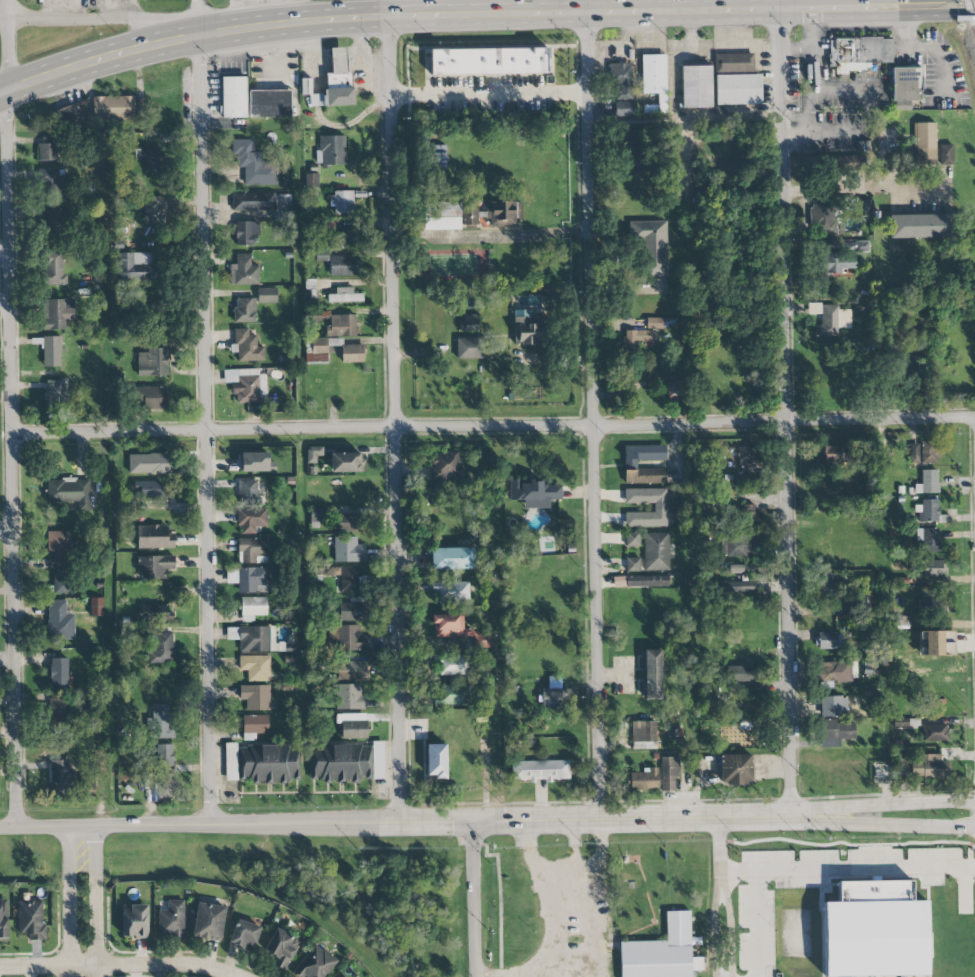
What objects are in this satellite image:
road: (778, 4)
road: (584, 6)
road: (926, 6)
road: (389, 8)
road: (6, 9)
road: (434, 16)
road: (200, 17)
railway: (970, 17)
road: (3, 18)
road: (104, 21)
road: (921, 45)
building: (858, 53)
building: (490, 62)
building: (733, 63)
building: (654, 78)
building: (621, 80)
road: (813, 80)
building: (336, 83)
building: (696, 87)
building: (905, 87)
building: (737, 90)
road: (489, 95)
building: (234, 98)
building: (270, 104)
building: (113, 107)
building: (141, 108)
building: (625, 109)
building: (71, 114)
building: (639, 138)
building: (924, 143)
building: (47, 148)
building: (330, 150)
building: (946, 154)
building: (437, 157)
building: (151, 159)
building: (253, 164)
building: (51, 179)
road: (862, 189)
building: (259, 201)
building: (342, 202)
building: (153, 210)
building: (503, 213)
building: (834, 213)
building: (441, 215)
building: (469, 216)
building: (54, 219)
building: (921, 226)
building: (246, 233)
road: (512, 234)
building: (347, 237)
building: (652, 245)
road: (4, 250)
building: (838, 263)
building: (344, 265)
building: (138, 267)
building: (53, 268)
building: (243, 271)
building: (272, 295)
building: (344, 295)
road: (4, 303)
building: (244, 310)
building: (57, 313)
building: (522, 313)
building: (826, 320)
building: (468, 322)
building: (654, 323)
building: (341, 325)
building: (529, 331)
building: (636, 338)
building: (247, 346)
building: (469, 348)
building: (318, 350)
building: (51, 351)
building: (352, 353)
building: (152, 362)
building: (916, 368)
building: (246, 385)
building: (676, 389)
building: (53, 393)
building: (152, 397)
road: (784, 409)
road: (593, 414)
road: (394, 419)
road: (11, 423)
road: (493, 426)
road: (204, 430)
building: (915, 449)
building: (929, 452)
building: (313, 454)
building: (747, 455)
building: (828, 455)
building: (254, 462)
building: (346, 462)
building: (149, 463)
building: (630, 464)
building: (446, 466)
building: (744, 479)
building: (928, 482)
building: (147, 489)
building: (247, 491)
building: (68, 492)
building: (534, 493)
building: (720, 496)
building: (659, 507)
building: (928, 512)
building: (317, 516)
building: (750, 519)
building: (251, 520)
building: (351, 522)
road: (7, 531)
building: (154, 537)
building: (632, 539)
building: (927, 540)
building: (738, 545)
building: (59, 547)
building: (253, 550)
building: (348, 550)
building: (655, 551)
building: (452, 558)
building: (633, 564)
building: (154, 566)
building: (735, 568)
building: (931, 568)
building: (346, 578)
building: (252, 580)
building: (641, 581)
building: (62, 582)
building: (829, 584)
building: (735, 586)
building: (451, 591)
building: (96, 606)
building: (252, 608)
building: (353, 609)
building: (154, 613)
building: (60, 621)
building: (447, 625)
building: (349, 638)
building: (257, 639)
building: (829, 640)
building: (938, 643)
building: (161, 648)
building: (452, 664)
building: (255, 667)
building: (351, 670)
building: (835, 672)
building: (740, 673)
building: (651, 674)
building: (59, 675)
building: (452, 695)
building: (554, 696)
building: (255, 697)
building: (349, 697)
building: (833, 706)
building: (57, 713)
building: (160, 721)
building: (351, 725)
building: (935, 732)
building: (836, 733)
building: (643, 734)
building: (164, 756)
building: (378, 760)
building: (436, 761)
building: (339, 763)
building: (261, 764)
building: (930, 767)
building: (735, 769)
building: (540, 770)
building: (669, 773)
building: (61, 777)
building: (644, 780)
building: (166, 788)
road: (907, 804)
road: (778, 810)
road: (359, 822)
road: (905, 826)
road: (573, 846)
road: (848, 869)
road: (541, 873)
road: (716, 893)
road: (474, 898)
road: (70, 902)
road: (100, 902)
building: (31, 919)
building: (171, 920)
building: (3, 921)
building: (134, 921)
building: (208, 921)
road: (729, 924)
road: (756, 924)
road: (599, 930)
building: (875, 930)
building: (244, 934)
building: (280, 948)
building: (662, 952)
building: (314, 964)
road: (129, 966)
road: (592, 975)
building: (343, 976)

